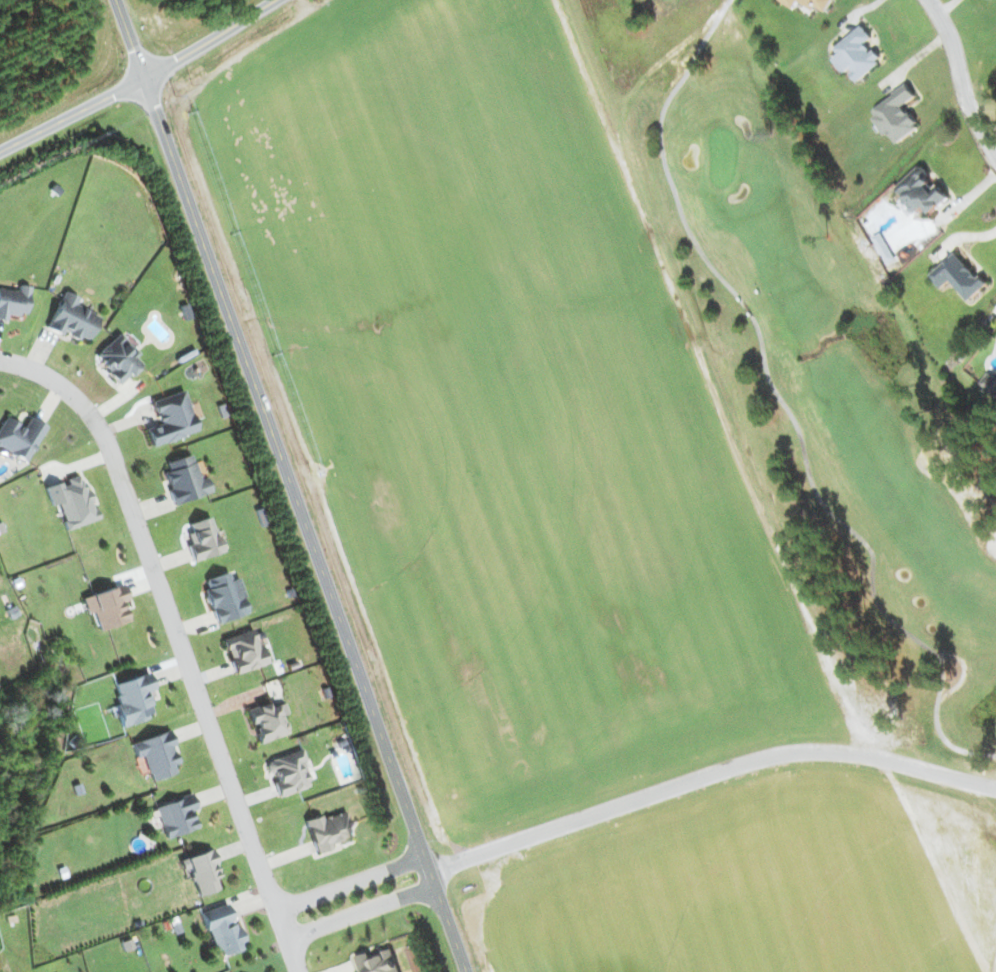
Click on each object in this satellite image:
building: (810, 3)
road: (130, 38)
building: (856, 54)
road: (137, 79)
road: (958, 81)
building: (896, 115)
building: (923, 192)
building: (959, 276)
building: (13, 301)
building: (72, 318)
building: (117, 358)
building: (990, 382)
building: (170, 419)
building: (19, 437)
building: (184, 480)
building: (71, 501)
road: (305, 524)
building: (202, 539)
park: (903, 576)
building: (224, 598)
building: (106, 607)
road: (174, 624)
building: (243, 651)
building: (132, 699)
building: (268, 721)
building: (156, 754)
building: (288, 773)
road: (708, 773)
road: (981, 803)
building: (176, 816)
building: (328, 831)
building: (201, 871)
road: (351, 878)
road: (363, 913)
building: (222, 930)
road: (295, 956)
building: (416, 958)
building: (379, 962)

